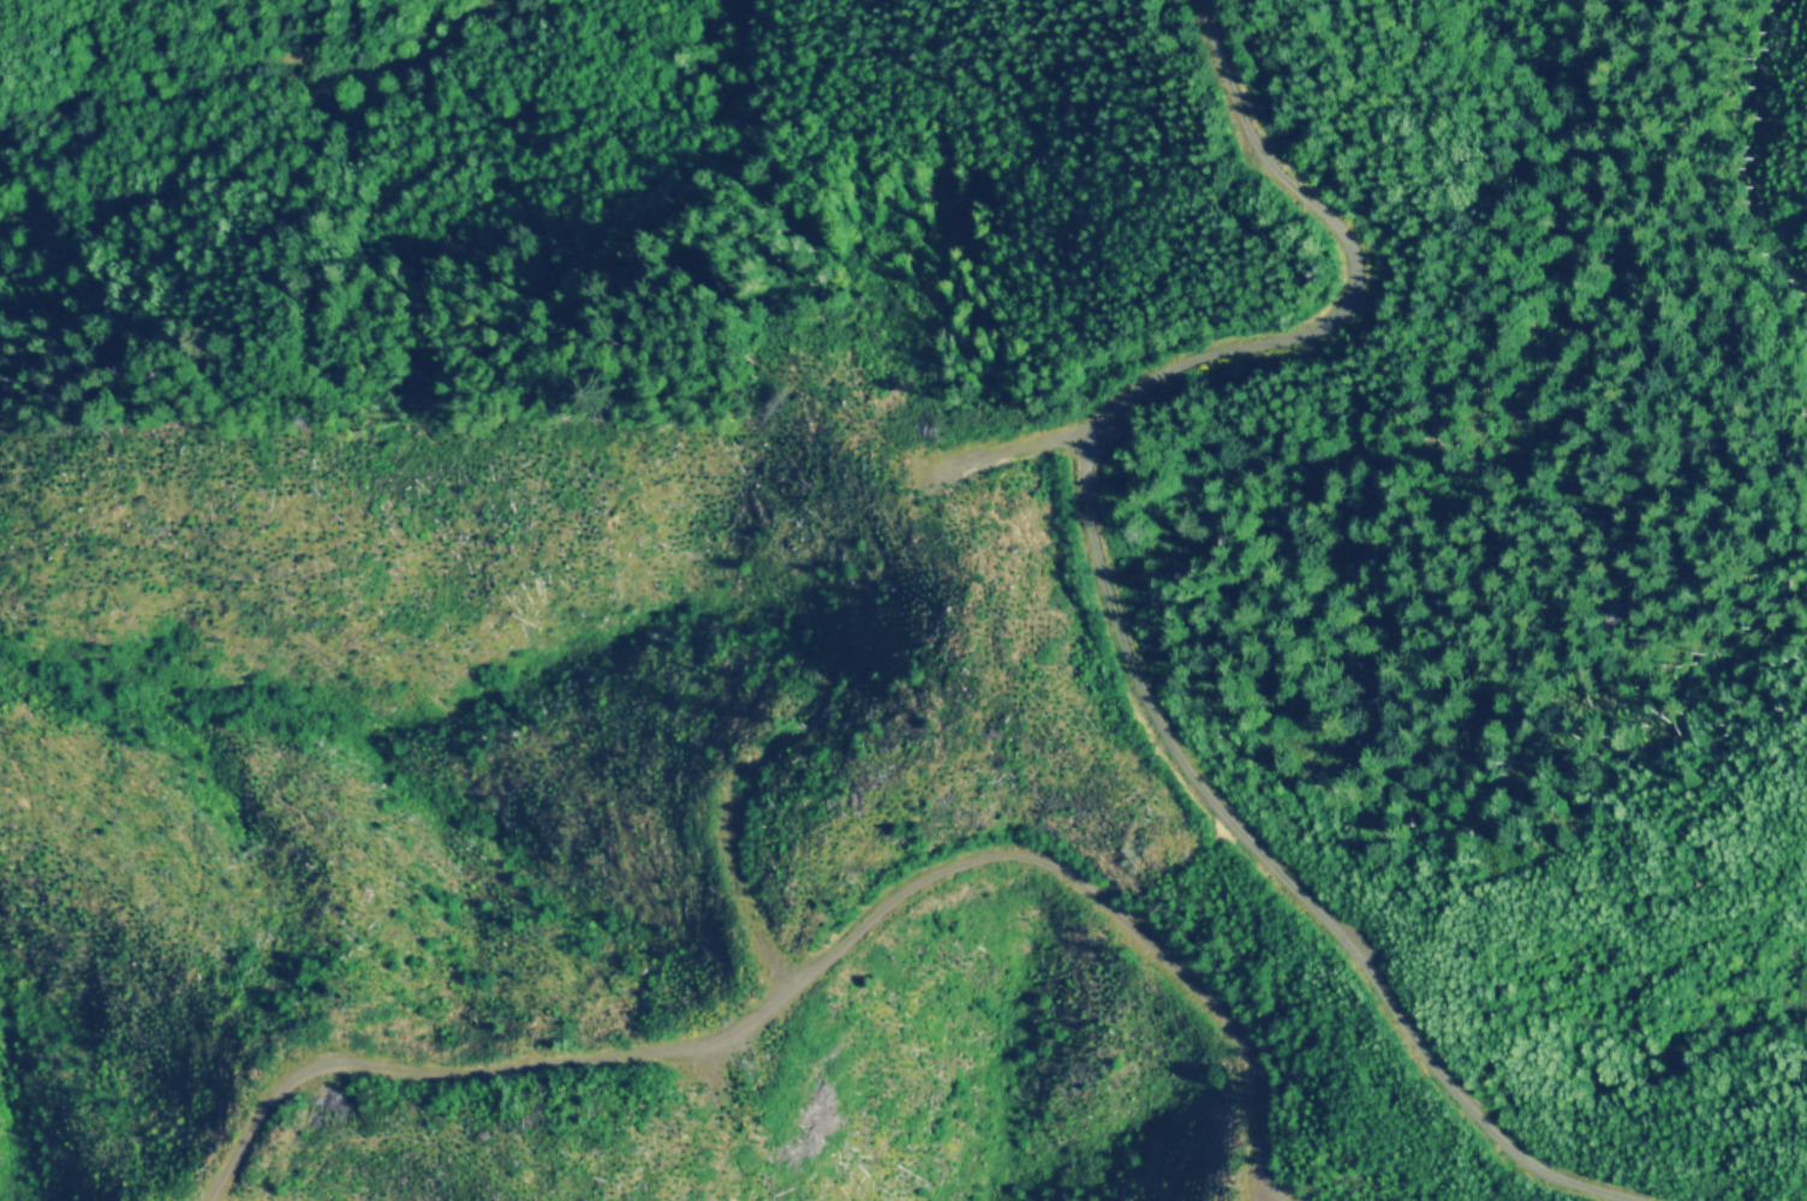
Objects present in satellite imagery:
road: (249, 64)
road: (1061, 452)
road: (1120, 548)
road: (833, 986)

